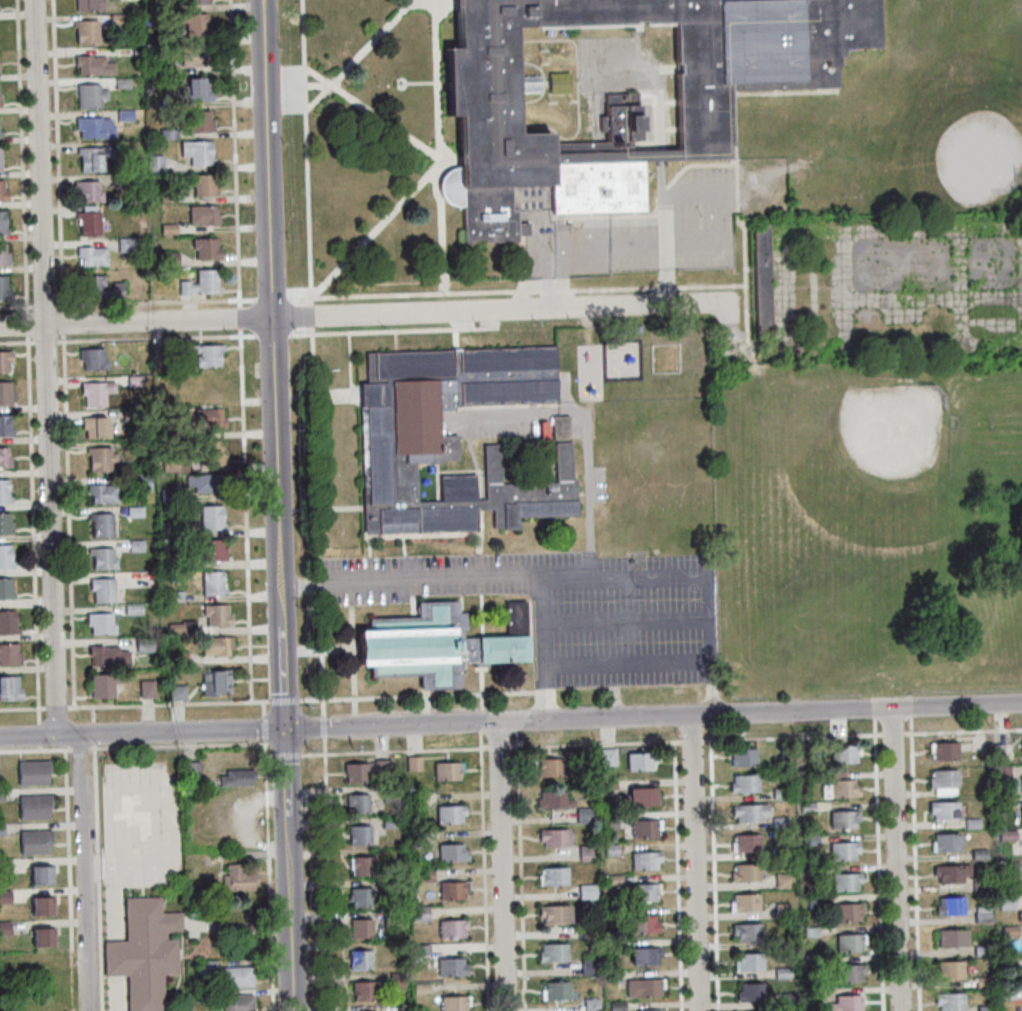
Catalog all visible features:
building: (194, 1)
building: (88, 5)
building: (160, 6)
building: (116, 18)
building: (192, 23)
building: (85, 31)
building: (168, 38)
building: (134, 51)
building: (193, 56)
building: (92, 65)
building: (163, 70)
building: (121, 83)
building: (196, 89)
building: (0, 95)
building: (89, 95)
building: (626, 97)
building: (168, 99)
building: (124, 115)
building: (198, 120)
building: (94, 127)
building: (167, 133)
building: (196, 152)
building: (93, 157)
building: (0, 158)
road: (266, 158)
building: (153, 163)
building: (202, 185)
road: (708, 190)
building: (88, 191)
building: (2, 193)
building: (166, 196)
building: (202, 215)
building: (2, 223)
building: (88, 223)
building: (167, 228)
building: (125, 245)
road: (564, 247)
building: (205, 248)
building: (3, 255)
building: (91, 256)
building: (168, 258)
building: (761, 281)
building: (200, 283)
building: (99, 287)
building: (3, 288)
road: (155, 304)
road: (362, 315)
road: (155, 339)
building: (185, 350)
road: (240, 350)
road: (63, 354)
building: (208, 355)
road: (312, 356)
building: (92, 358)
building: (5, 360)
road: (27, 362)
road: (44, 368)
building: (134, 381)
building: (208, 387)
building: (95, 392)
building: (5, 393)
building: (208, 417)
building: (4, 425)
building: (93, 427)
building: (173, 429)
building: (542, 430)
park: (895, 430)
building: (455, 440)
building: (141, 446)
building: (208, 452)
building: (3, 458)
building: (99, 458)
building: (174, 464)
building: (140, 482)
building: (207, 482)
building: (3, 492)
building: (102, 493)
building: (168, 496)
building: (134, 511)
building: (210, 517)
building: (5, 524)
building: (100, 524)
road: (277, 524)
building: (169, 528)
park: (869, 529)
building: (135, 545)
building: (210, 549)
building: (5, 556)
building: (103, 558)
building: (169, 561)
road: (583, 575)
building: (211, 583)
building: (5, 589)
building: (102, 589)
building: (173, 596)
building: (132, 610)
building: (216, 614)
building: (7, 623)
building: (100, 623)
building: (174, 628)
building: (143, 644)
building: (215, 646)
building: (440, 646)
building: (9, 654)
building: (106, 655)
building: (179, 657)
road: (684, 661)
building: (215, 681)
building: (103, 685)
road: (711, 687)
building: (9, 688)
building: (146, 689)
building: (175, 692)
road: (545, 693)
road: (284, 699)
road: (311, 699)
street lamp: (307, 702)
road: (169, 704)
road: (263, 706)
road: (57, 709)
road: (22, 710)
road: (874, 712)
road: (911, 712)
road: (93, 716)
road: (652, 717)
road: (323, 724)
road: (264, 726)
traffic signals: (284, 730)
road: (169, 732)
road: (863, 732)
road: (94, 735)
road: (28, 737)
road: (39, 737)
road: (692, 739)
road: (594, 742)
road: (497, 745)
road: (177, 746)
road: (94, 747)
road: (266, 748)
road: (404, 749)
road: (40, 750)
building: (944, 750)
road: (79, 751)
building: (1002, 751)
road: (34, 752)
road: (312, 753)
building: (785, 753)
building: (843, 753)
road: (286, 754)
road: (269, 755)
building: (583, 757)
building: (606, 757)
building: (742, 757)
building: (638, 761)
road: (285, 763)
building: (412, 763)
building: (549, 767)
building: (365, 770)
building: (446, 771)
building: (32, 772)
building: (190, 774)
building: (836, 776)
building: (814, 777)
building: (236, 778)
building: (1000, 778)
building: (944, 781)
building: (606, 784)
building: (744, 784)
building: (839, 789)
building: (0, 794)
building: (390, 794)
building: (780, 794)
building: (635, 798)
building: (414, 799)
building: (552, 800)
building: (1005, 802)
building: (356, 803)
building: (33, 807)
building: (806, 807)
building: (945, 810)
building: (748, 813)
building: (449, 814)
building: (583, 815)
building: (1021, 815)
building: (843, 819)
building: (612, 820)
building: (389, 822)
building: (778, 822)
building: (973, 822)
building: (1, 828)
building: (644, 828)
building: (1008, 833)
building: (358, 835)
building: (553, 837)
building: (415, 839)
building: (809, 840)
building: (946, 841)
building: (34, 842)
building: (746, 842)
building: (609, 850)
building: (843, 851)
building: (585, 852)
building: (451, 853)
building: (980, 853)
road: (895, 859)
building: (643, 860)
road: (694, 863)
road: (878, 863)
road: (915, 863)
building: (4, 865)
building: (361, 866)
road: (484, 866)
road: (500, 866)
building: (1013, 866)
road: (520, 867)
road: (83, 873)
road: (327, 873)
building: (744, 873)
building: (953, 873)
building: (40, 875)
building: (423, 875)
road: (678, 875)
road: (713, 875)
building: (552, 876)
building: (237, 879)
building: (613, 880)
building: (783, 881)
building: (844, 882)
road: (269, 883)
building: (451, 890)
building: (586, 892)
building: (643, 892)
building: (4, 897)
building: (360, 897)
building: (1007, 900)
building: (195, 901)
building: (744, 903)
road: (288, 904)
building: (813, 904)
building: (951, 905)
building: (40, 906)
building: (781, 910)
building: (847, 912)
building: (418, 913)
building: (553, 913)
building: (984, 915)
building: (1020, 915)
building: (392, 919)
building: (641, 925)
building: (4, 928)
building: (360, 928)
building: (451, 929)
building: (746, 931)
building: (1011, 931)
building: (810, 932)
building: (588, 933)
building: (41, 937)
building: (953, 938)
building: (780, 942)
building: (849, 942)
building: (614, 946)
building: (419, 949)
building: (983, 949)
building: (143, 952)
building: (552, 953)
building: (644, 956)
building: (359, 959)
building: (749, 962)
building: (811, 963)
building: (206, 967)
building: (450, 967)
building: (588, 967)
building: (950, 969)
building: (782, 973)
building: (849, 973)
building: (613, 976)
building: (236, 977)
building: (396, 979)
building: (985, 981)
building: (420, 988)
building: (642, 988)
building: (362, 990)
building: (554, 990)
building: (751, 992)
building: (1007, 993)
building: (811, 995)
building: (789, 1000)
building: (950, 1000)
building: (237, 1003)
building: (453, 1003)
building: (590, 1004)
building: (845, 1004)
building: (616, 1006)
building: (986, 1008)
building: (652, 1010)

